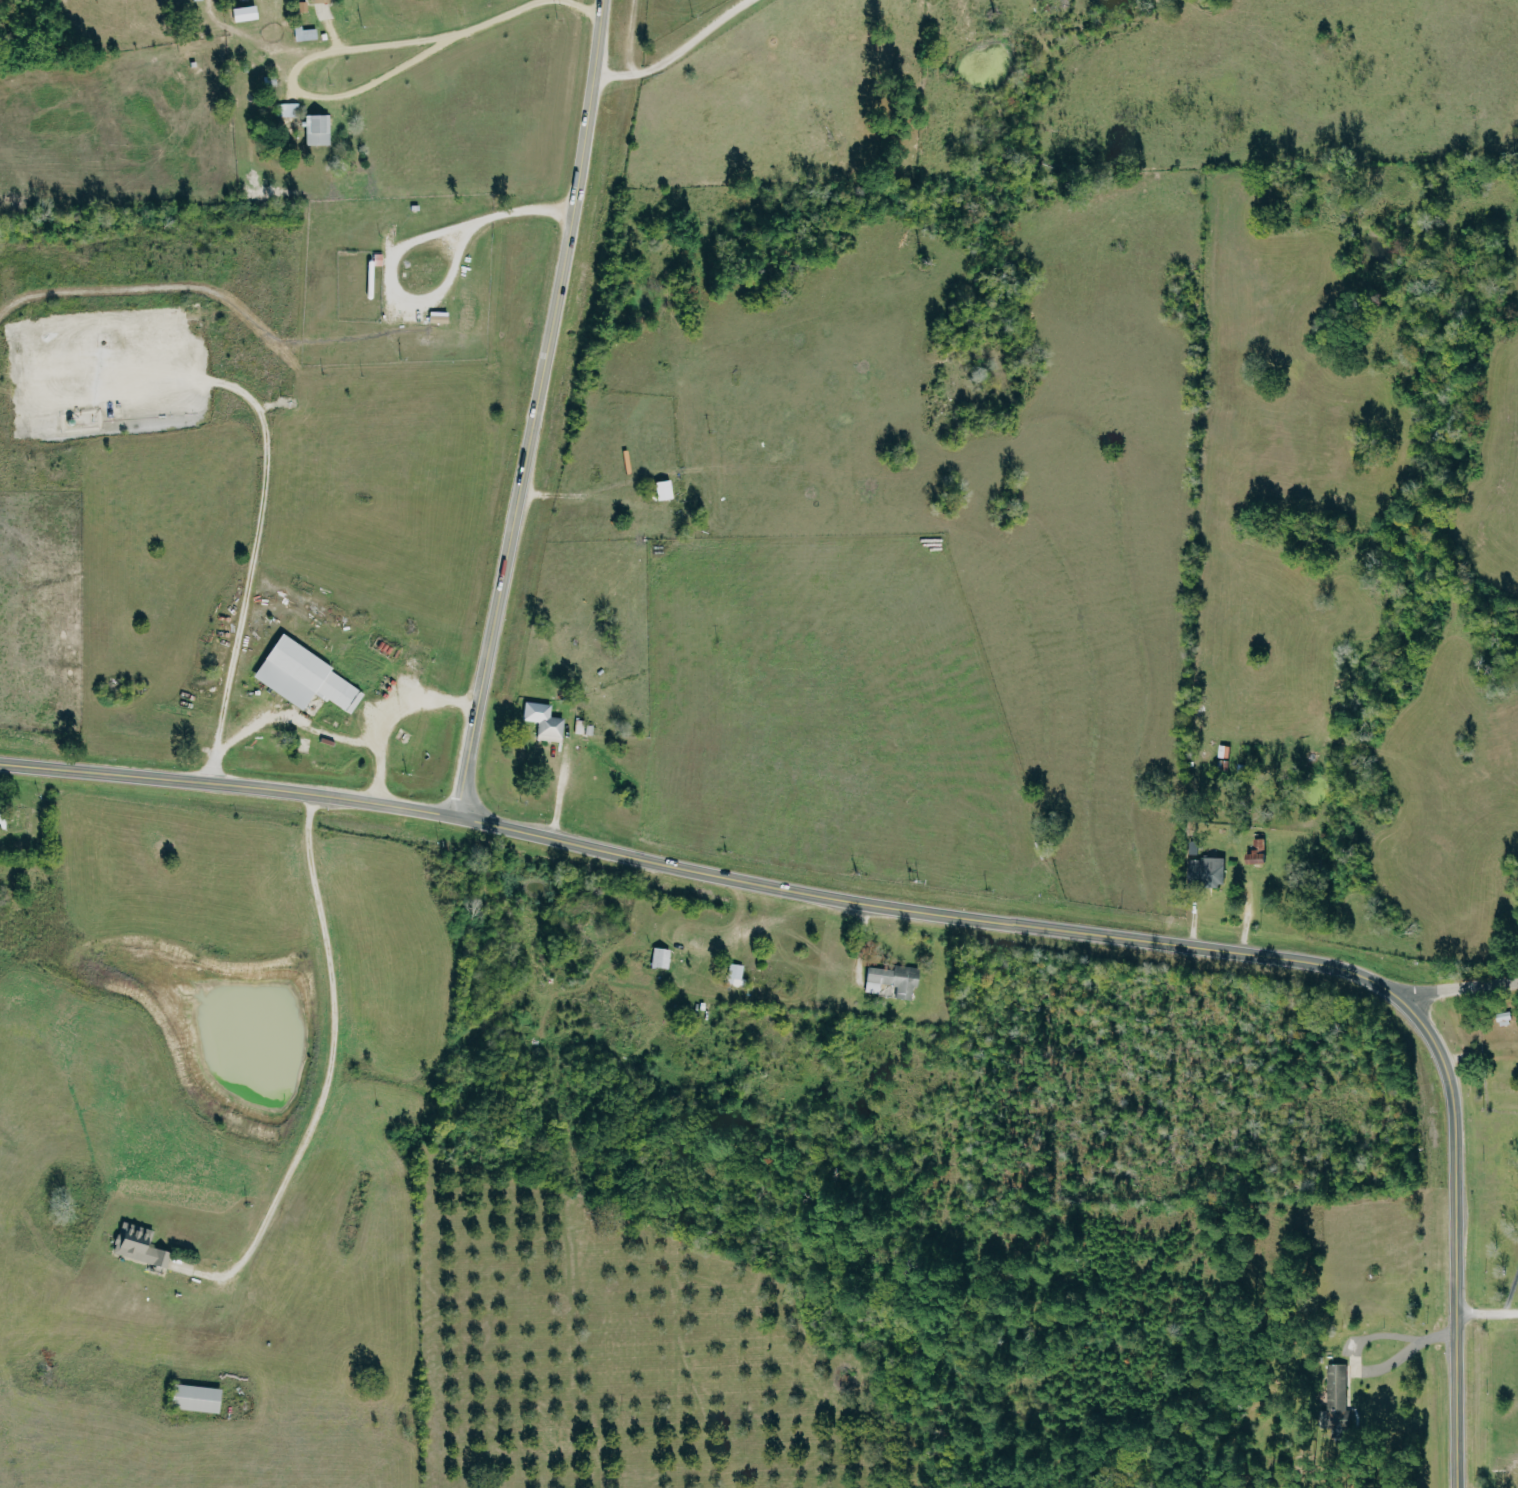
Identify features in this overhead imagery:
building: (194, 0)
building: (319, 0)
building: (242, 13)
building: (304, 33)
building: (287, 109)
building: (316, 129)
building: (436, 317)
road: (534, 410)
building: (662, 489)
building: (304, 677)
building: (542, 721)
road: (228, 786)
building: (1, 814)
building: (1255, 853)
building: (1205, 871)
road: (1175, 945)
building: (659, 958)
building: (734, 974)
building: (891, 980)
road: (1453, 987)
building: (1502, 1018)
road: (331, 1058)
building: (138, 1246)
road: (1485, 1315)
building: (194, 1397)
building: (1337, 1406)

